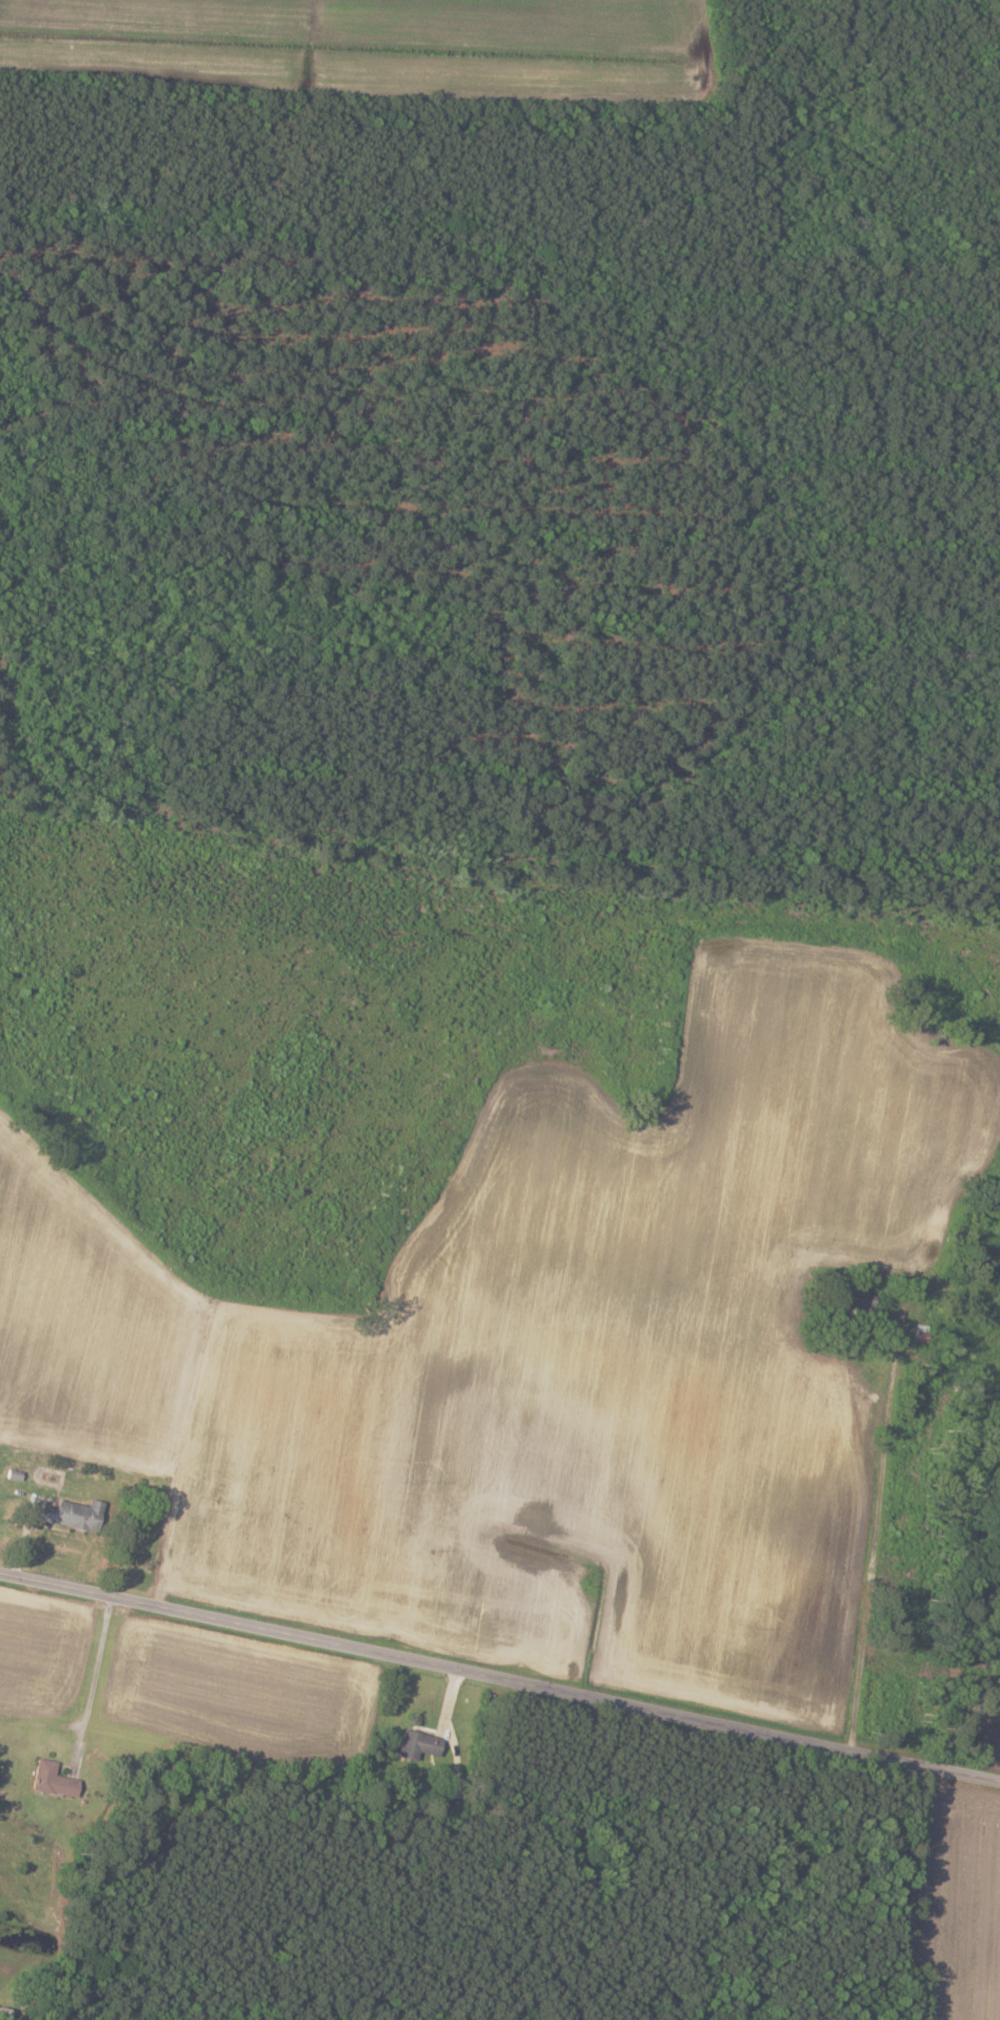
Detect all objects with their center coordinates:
building: (851, 1304)
building: (69, 1514)
road: (880, 1547)
road: (97, 1669)
road: (499, 1675)
building: (417, 1744)
building: (50, 1779)

